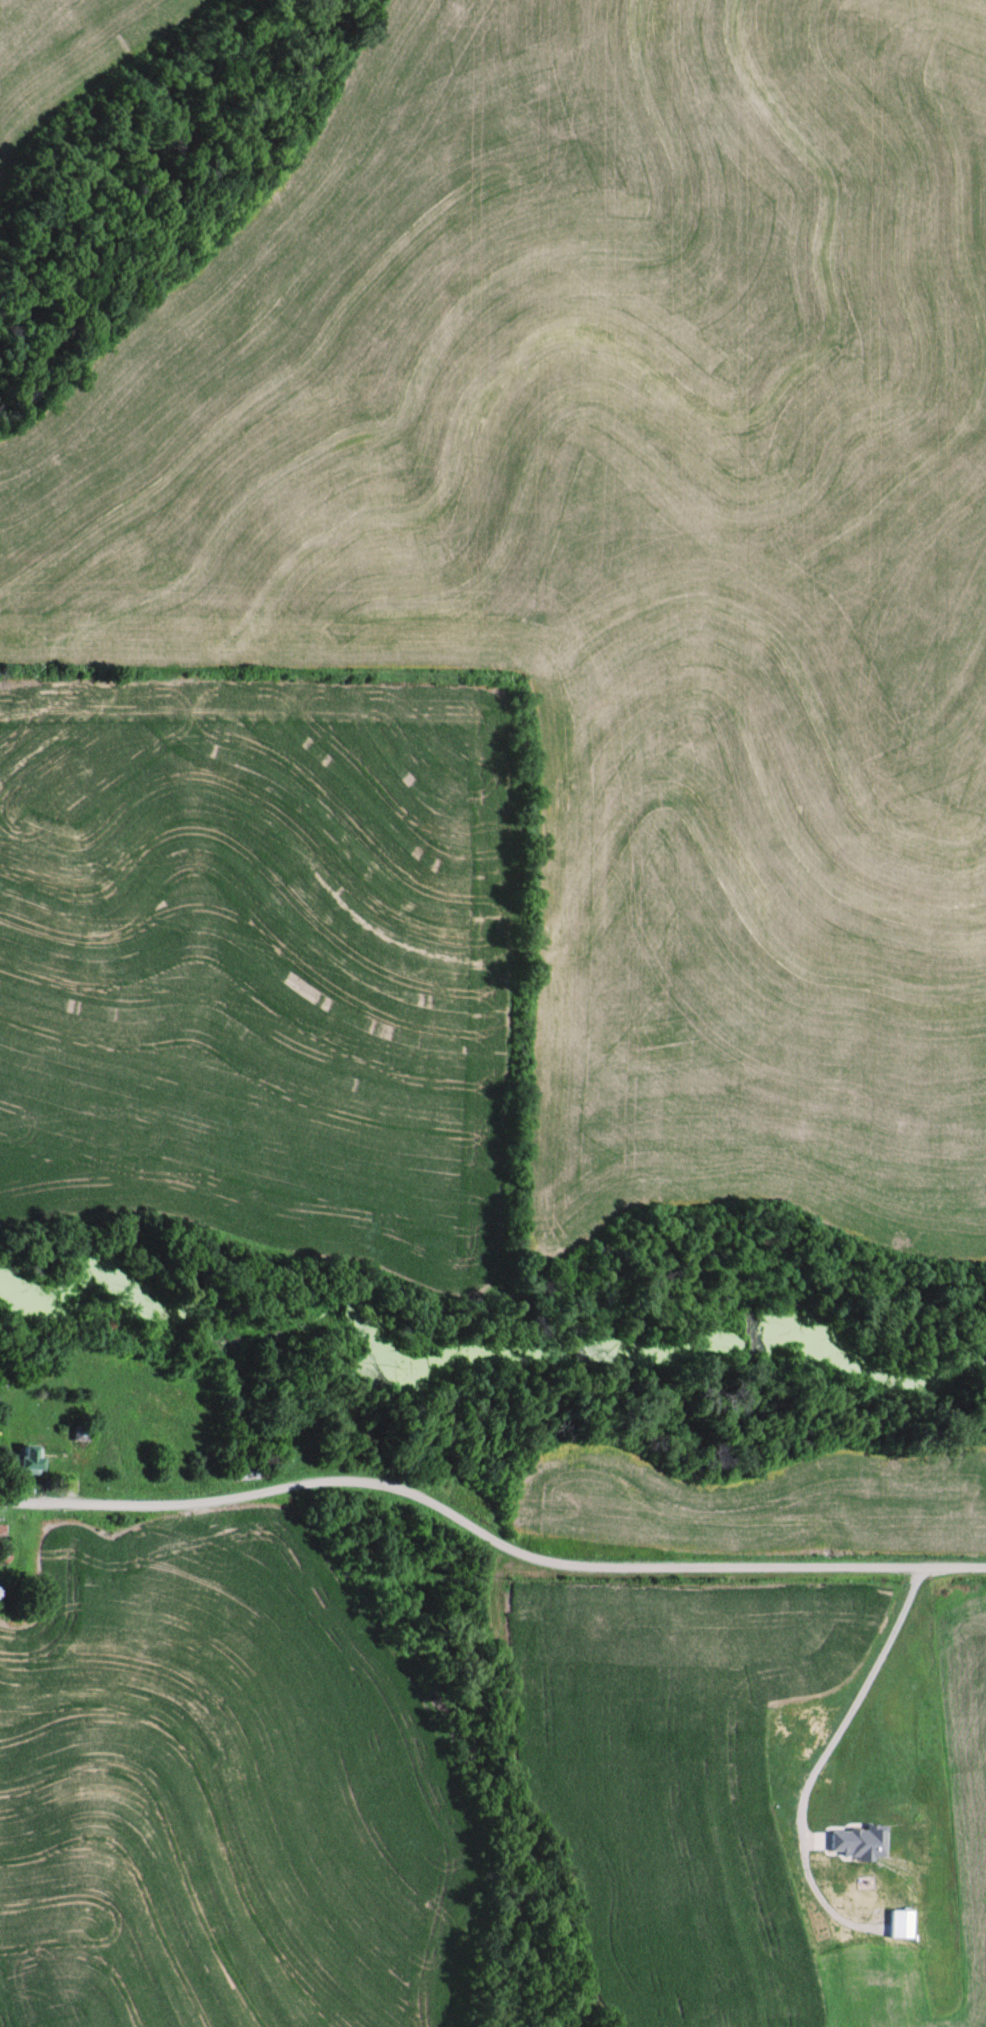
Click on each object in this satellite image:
building: (77, 1430)
building: (27, 1456)
building: (248, 1470)
road: (487, 1535)
building: (1, 1538)
building: (795, 1747)

